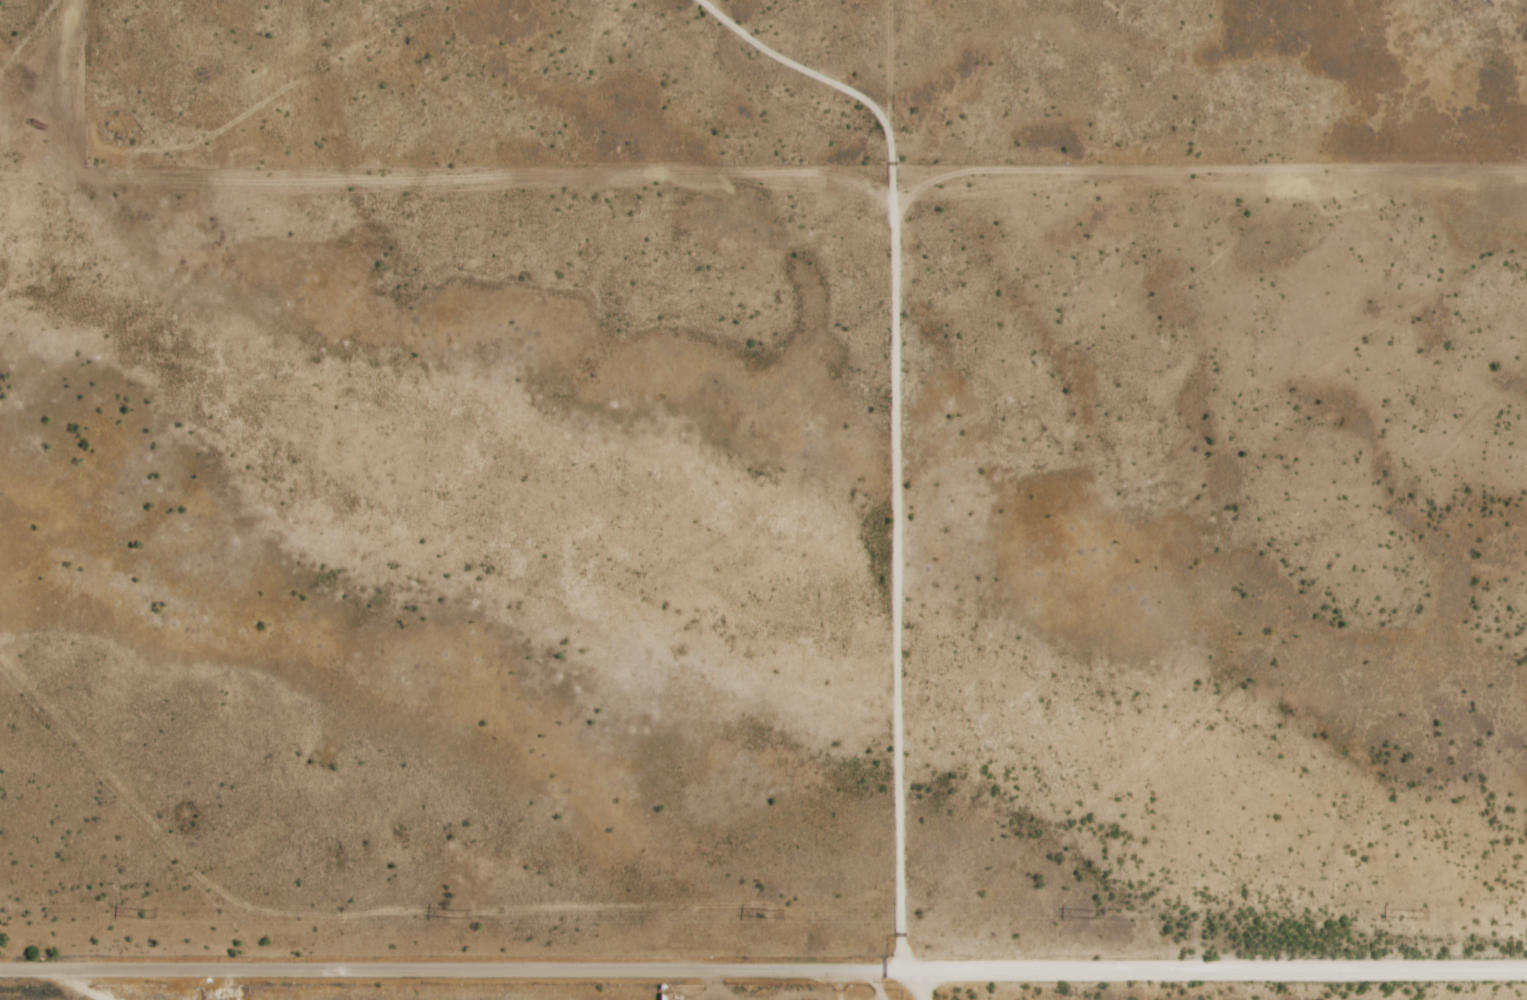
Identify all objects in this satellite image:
road: (897, 440)
power tower: (769, 913)
power tower: (142, 914)
power tower: (455, 914)
power tower: (1091, 914)
power tower: (1414, 914)
road: (763, 972)
road: (922, 986)

